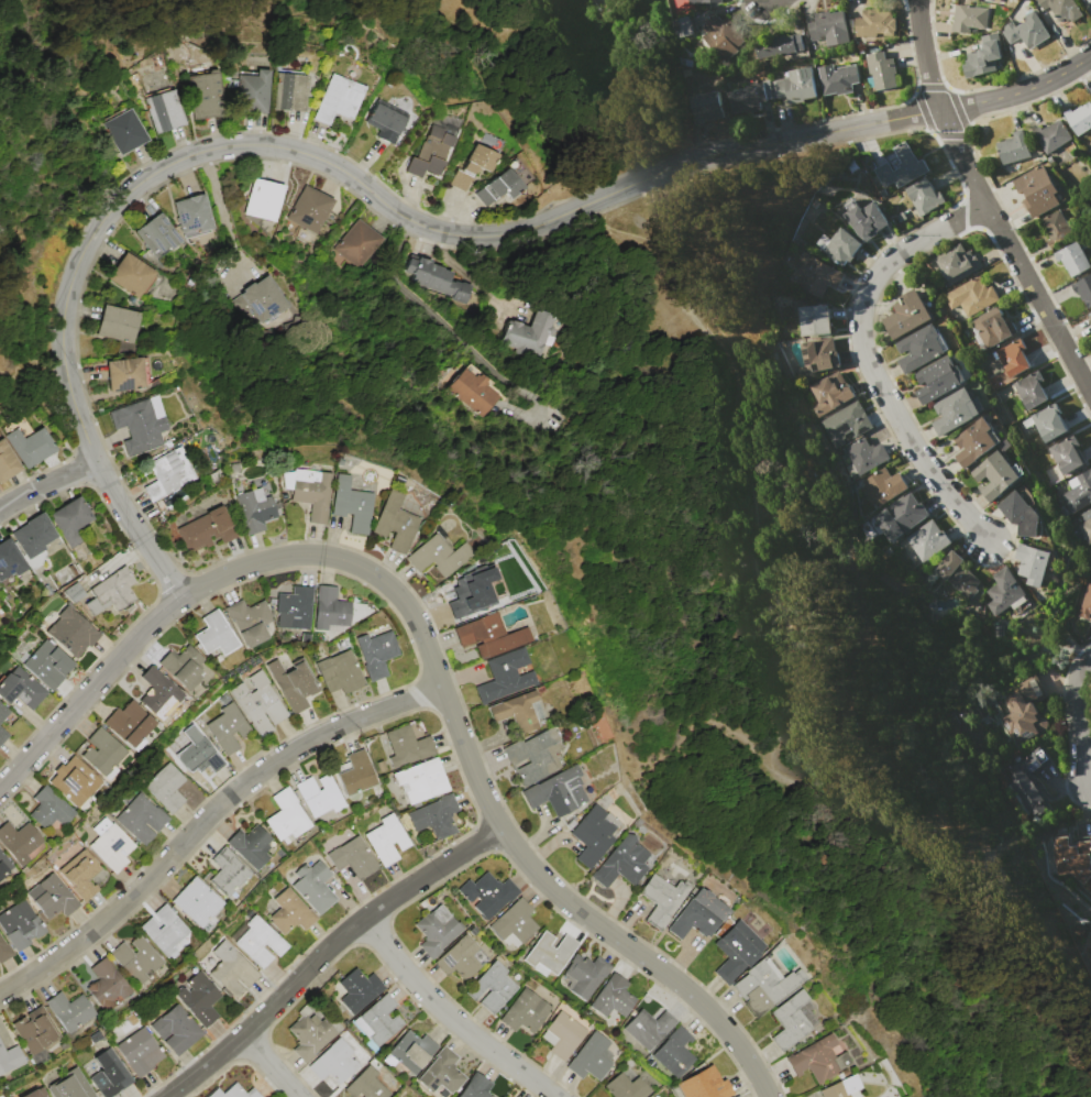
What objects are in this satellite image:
building: (976, 0)
building: (1089, 0)
building: (702, 1)
building: (993, 1)
building: (1062, 10)
building: (969, 18)
building: (873, 22)
building: (681, 26)
building: (828, 28)
building: (1027, 31)
building: (720, 36)
building: (778, 45)
building: (983, 56)
building: (880, 70)
building: (838, 78)
building: (792, 85)
building: (251, 91)
building: (288, 91)
building: (205, 95)
building: (747, 97)
building: (338, 99)
building: (706, 107)
building: (164, 110)
building: (385, 118)
building: (1079, 118)
building: (124, 131)
building: (1051, 135)
building: (434, 145)
building: (1013, 147)
building: (477, 160)
building: (901, 167)
building: (503, 184)
building: (1036, 189)
building: (924, 196)
building: (264, 199)
road: (992, 199)
park: (66, 204)
road: (387, 204)
building: (309, 209)
road: (223, 212)
building: (191, 217)
building: (862, 218)
building: (1056, 226)
building: (155, 237)
building: (359, 244)
building: (838, 246)
building: (1072, 259)
building: (957, 265)
building: (814, 275)
building: (131, 276)
building: (439, 279)
building: (1083, 289)
building: (971, 296)
building: (260, 303)
building: (907, 315)
building: (1089, 315)
building: (1089, 318)
building: (815, 320)
building: (117, 325)
building: (992, 328)
building: (530, 334)
building: (921, 348)
building: (819, 354)
building: (1012, 359)
road: (872, 361)
building: (126, 374)
building: (937, 380)
building: (1031, 390)
building: (472, 393)
building: (828, 394)
building: (956, 410)
building: (845, 423)
building: (1046, 423)
building: (140, 425)
building: (974, 441)
building: (30, 446)
building: (864, 454)
building: (1065, 454)
building: (7, 461)
building: (168, 473)
building: (994, 474)
road: (46, 486)
building: (882, 486)
building: (1078, 491)
building: (311, 493)
building: (352, 505)
building: (254, 509)
building: (1021, 514)
building: (900, 516)
building: (70, 519)
building: (395, 523)
building: (1084, 527)
building: (207, 529)
building: (33, 536)
building: (927, 540)
building: (1089, 550)
building: (440, 556)
building: (1090, 556)
building: (10, 559)
building: (1033, 563)
building: (958, 574)
building: (1005, 591)
building: (74, 593)
building: (110, 593)
building: (469, 593)
building: (1086, 604)
building: (294, 608)
building: (330, 611)
building: (250, 621)
building: (71, 632)
building: (214, 634)
building: (489, 636)
road: (432, 650)
building: (376, 654)
building: (47, 665)
building: (183, 667)
building: (340, 672)
building: (505, 677)
building: (293, 683)
building: (20, 689)
building: (156, 693)
building: (260, 703)
building: (1023, 710)
building: (3, 712)
building: (519, 712)
road: (1076, 720)
building: (128, 723)
building: (228, 728)
building: (2, 735)
building: (407, 746)
building: (102, 752)
building: (199, 755)
building: (535, 757)
building: (355, 772)
building: (1028, 775)
building: (421, 780)
building: (75, 781)
building: (166, 787)
building: (556, 792)
building: (319, 796)
building: (49, 809)
building: (436, 816)
building: (286, 818)
building: (142, 819)
road: (208, 821)
building: (594, 835)
building: (386, 840)
building: (19, 842)
building: (250, 845)
building: (112, 847)
building: (353, 858)
building: (1073, 858)
building: (621, 863)
building: (4, 864)
building: (227, 874)
building: (80, 875)
building: (315, 887)
building: (487, 895)
building: (52, 898)
building: (661, 900)
building: (195, 903)
building: (290, 913)
building: (697, 915)
building: (515, 923)
building: (20, 925)
building: (163, 930)
building: (437, 931)
building: (260, 943)
building: (736, 951)
building: (4, 952)
road: (331, 954)
building: (549, 954)
building: (461, 958)
building: (135, 961)
building: (231, 970)
building: (584, 976)
building: (106, 985)
building: (764, 986)
building: (492, 987)
building: (357, 990)
building: (613, 997)
building: (199, 999)
road: (455, 1007)
building: (69, 1011)
building: (525, 1011)
building: (378, 1020)
building: (792, 1020)
building: (648, 1028)
building: (35, 1030)
building: (176, 1030)
building: (309, 1035)
building: (562, 1035)
building: (409, 1051)
building: (140, 1052)
building: (674, 1053)
building: (591, 1057)
building: (10, 1058)
building: (818, 1060)
building: (333, 1062)
road: (280, 1066)
building: (442, 1072)
building: (109, 1074)
building: (70, 1085)
building: (365, 1085)
building: (705, 1085)
building: (476, 1087)
building: (626, 1087)
building: (842, 1088)
building: (236, 1091)
building: (31, 1094)
building: (394, 1096)
building: (738, 1096)

